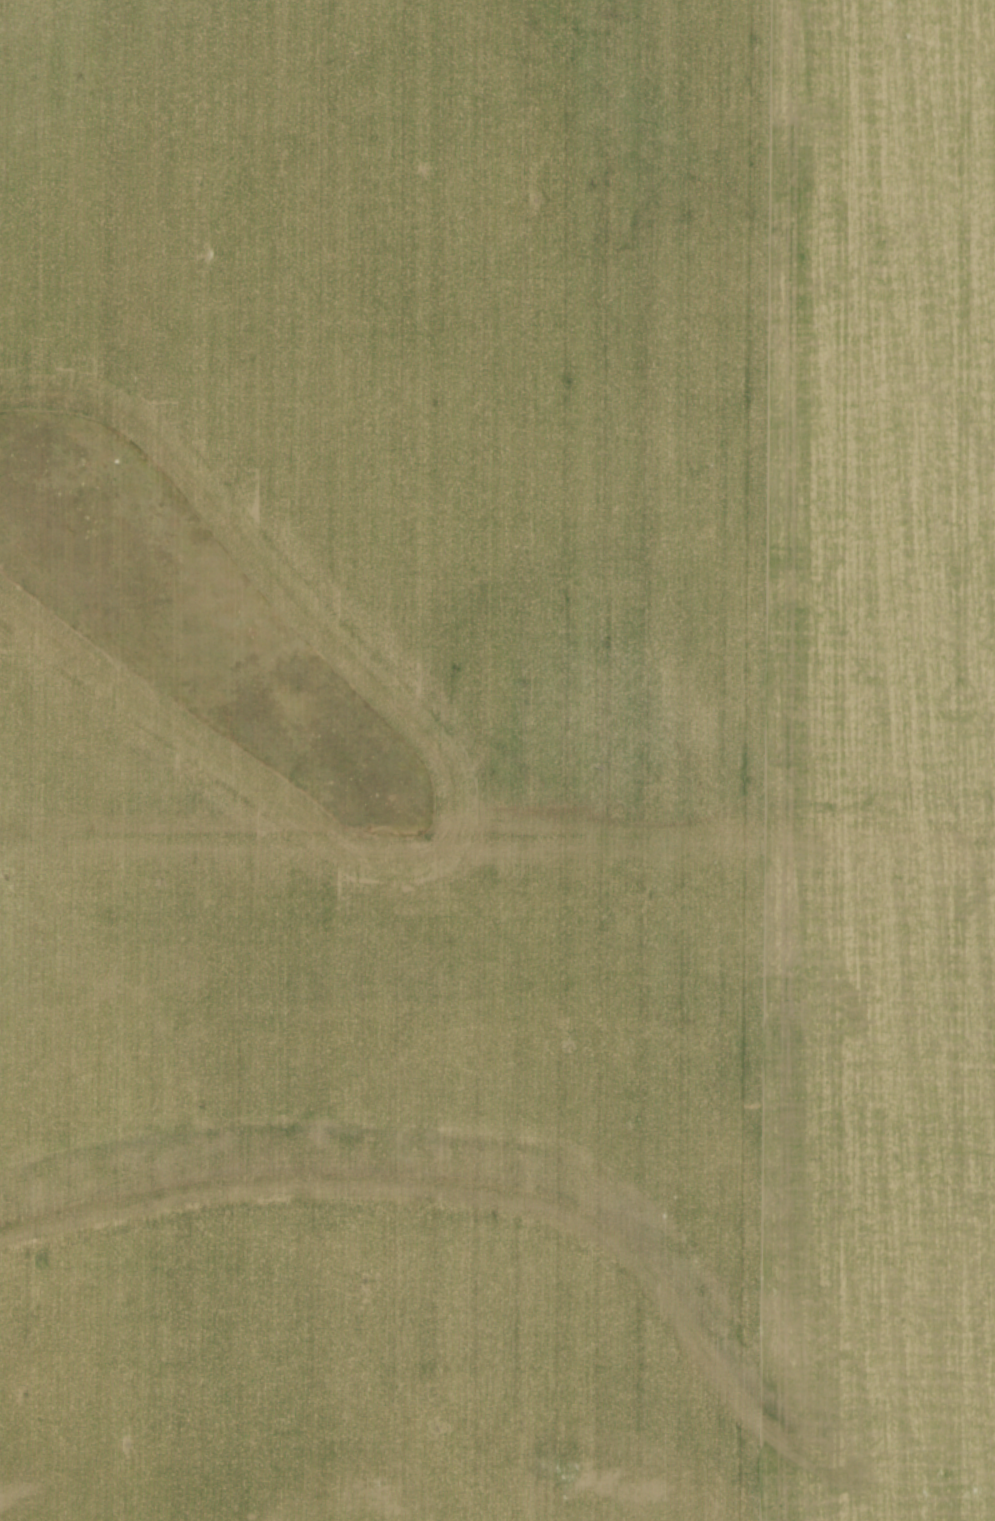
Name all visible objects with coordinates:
crop: (497, 760)

